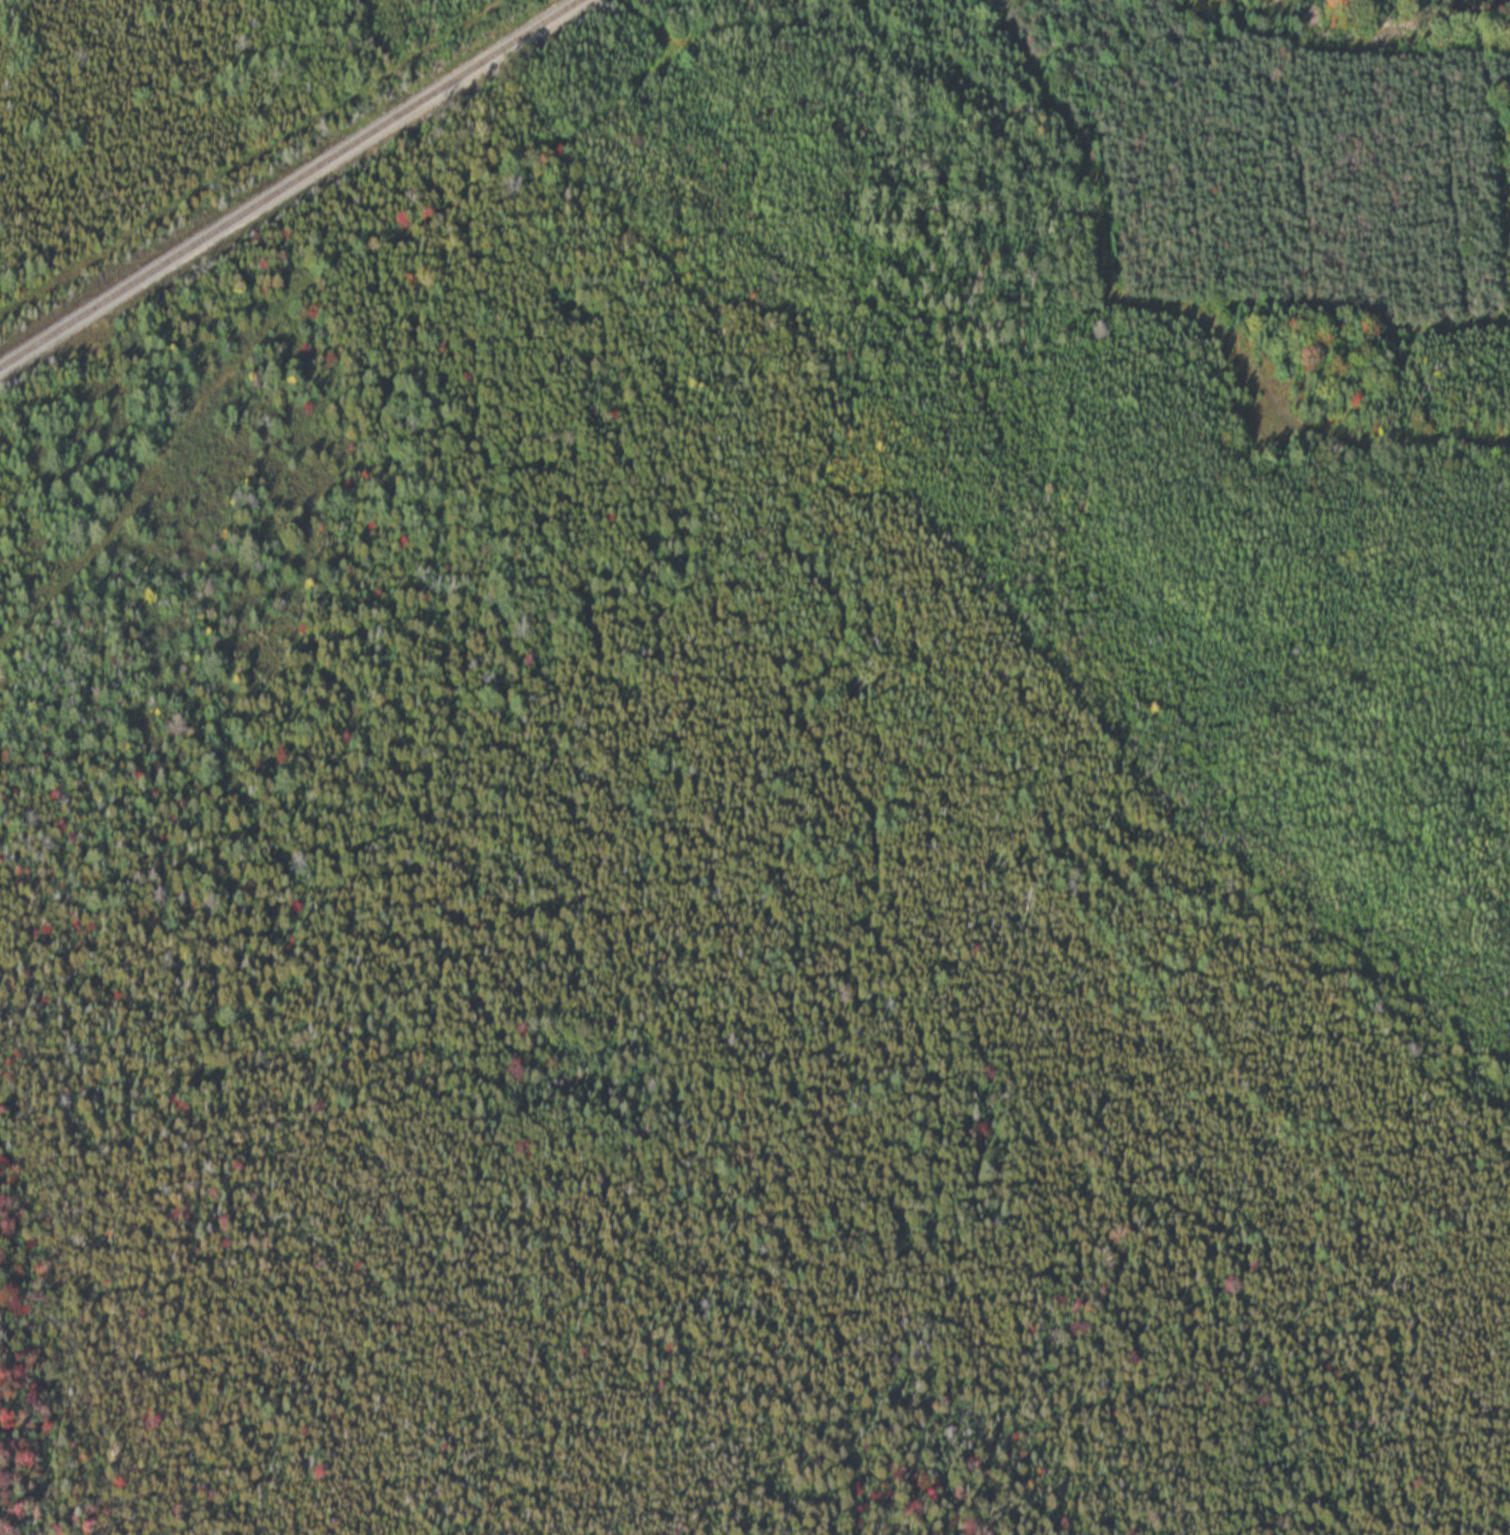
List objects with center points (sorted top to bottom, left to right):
railway: (289, 183)
road: (1317, 440)

